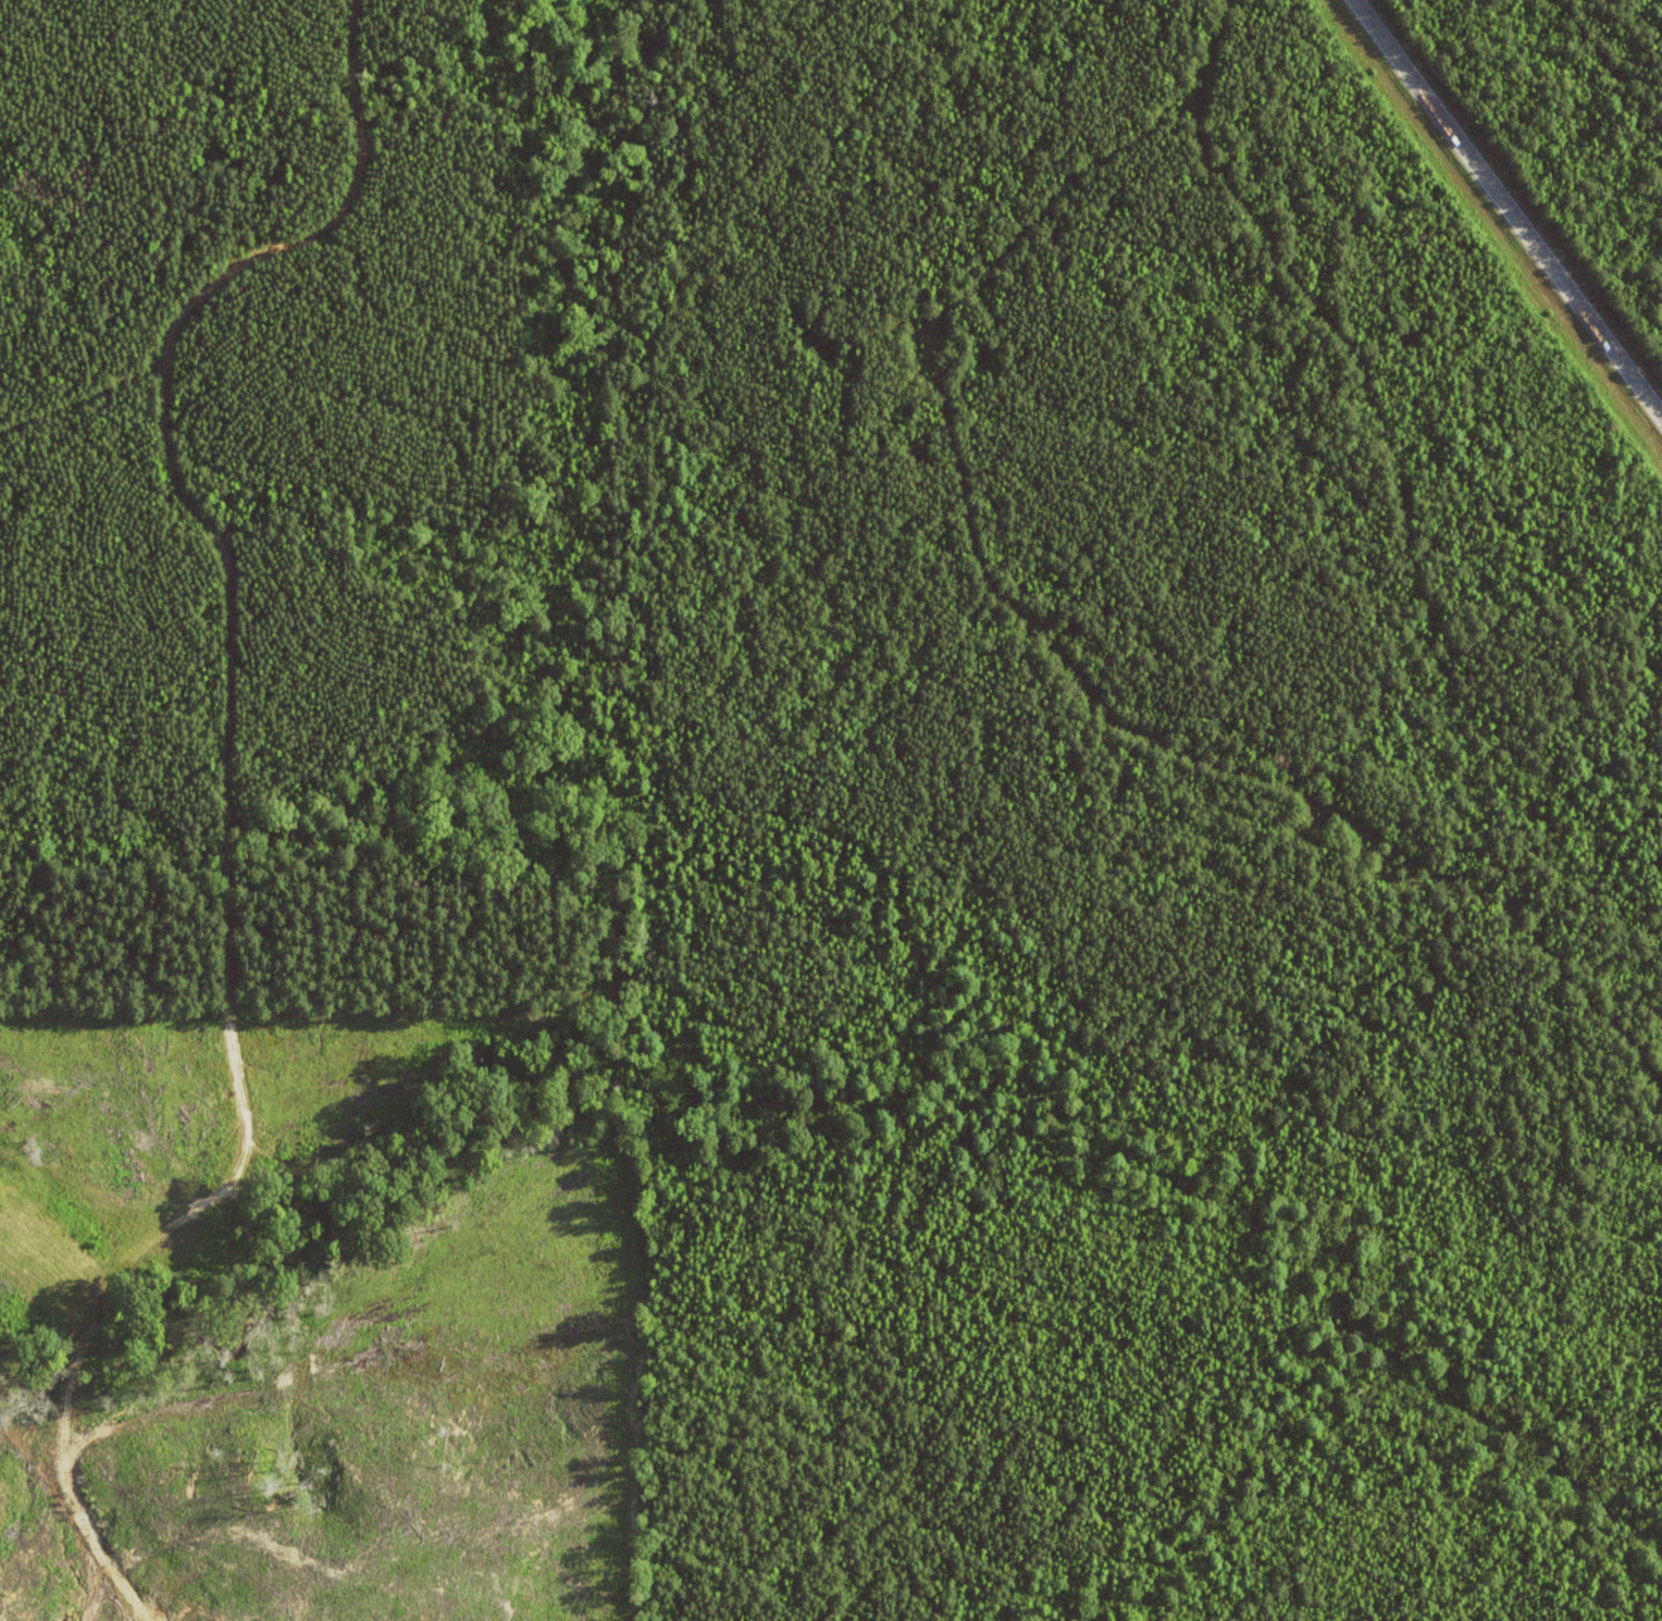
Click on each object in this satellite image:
road: (1506, 210)

